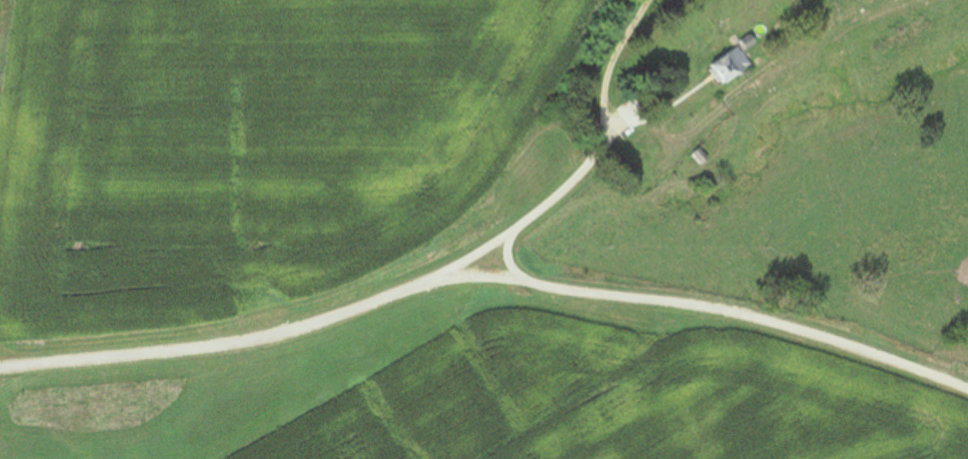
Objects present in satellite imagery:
building: (752, 43)
building: (735, 66)
road: (400, 300)
road: (726, 307)

